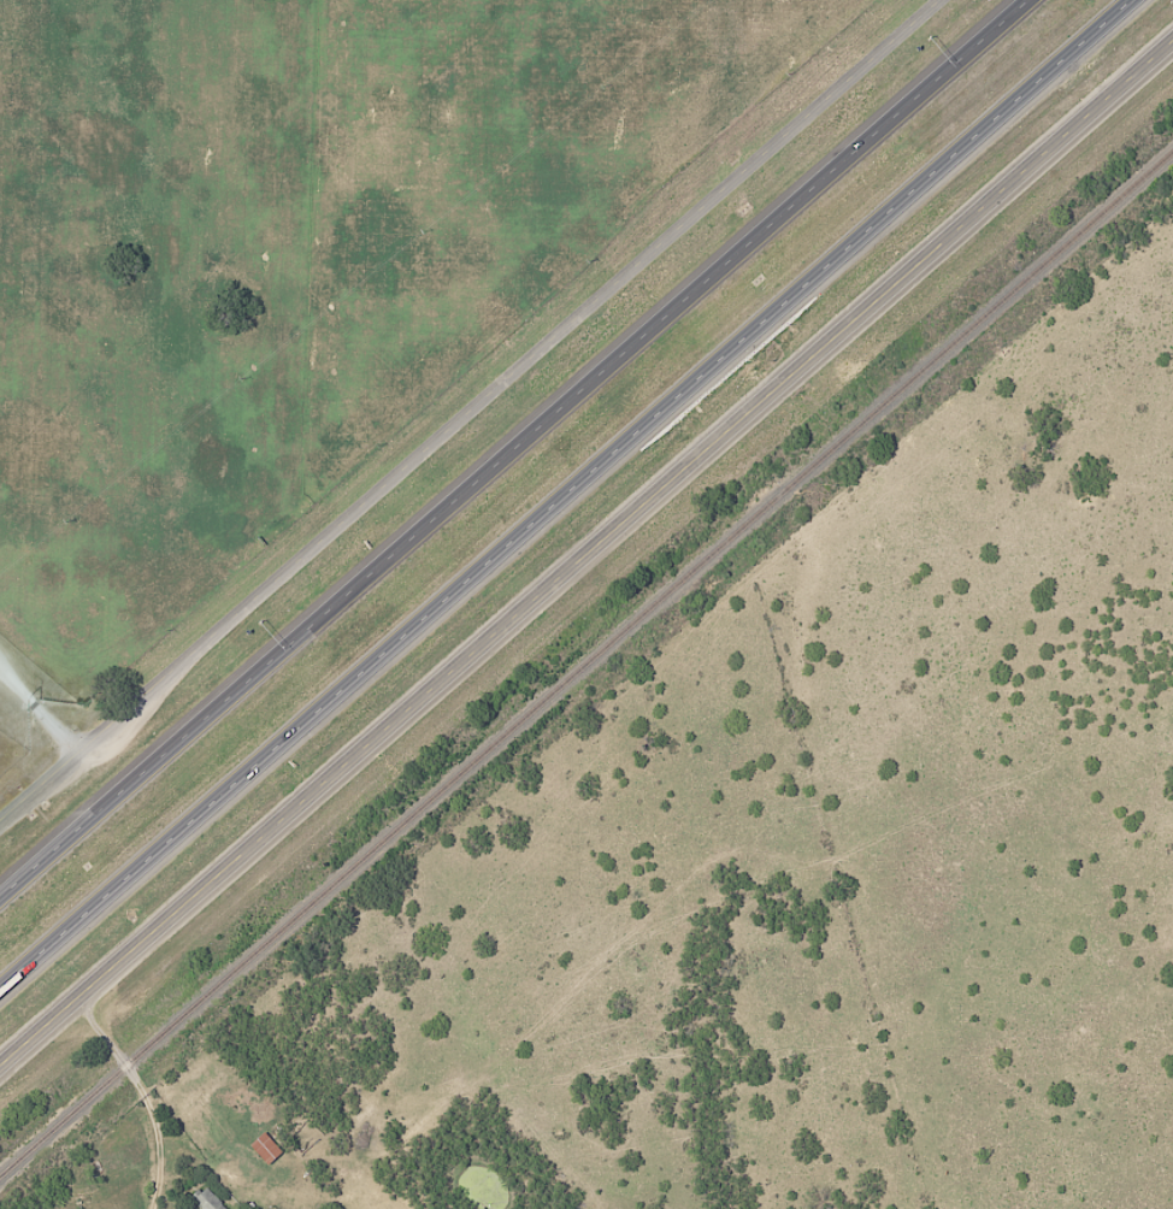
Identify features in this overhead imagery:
road: (468, 408)
road: (506, 443)
road: (567, 494)
road: (585, 552)
railway: (585, 661)
road: (37, 708)
road: (137, 1093)
building: (266, 1149)
building: (208, 1199)

